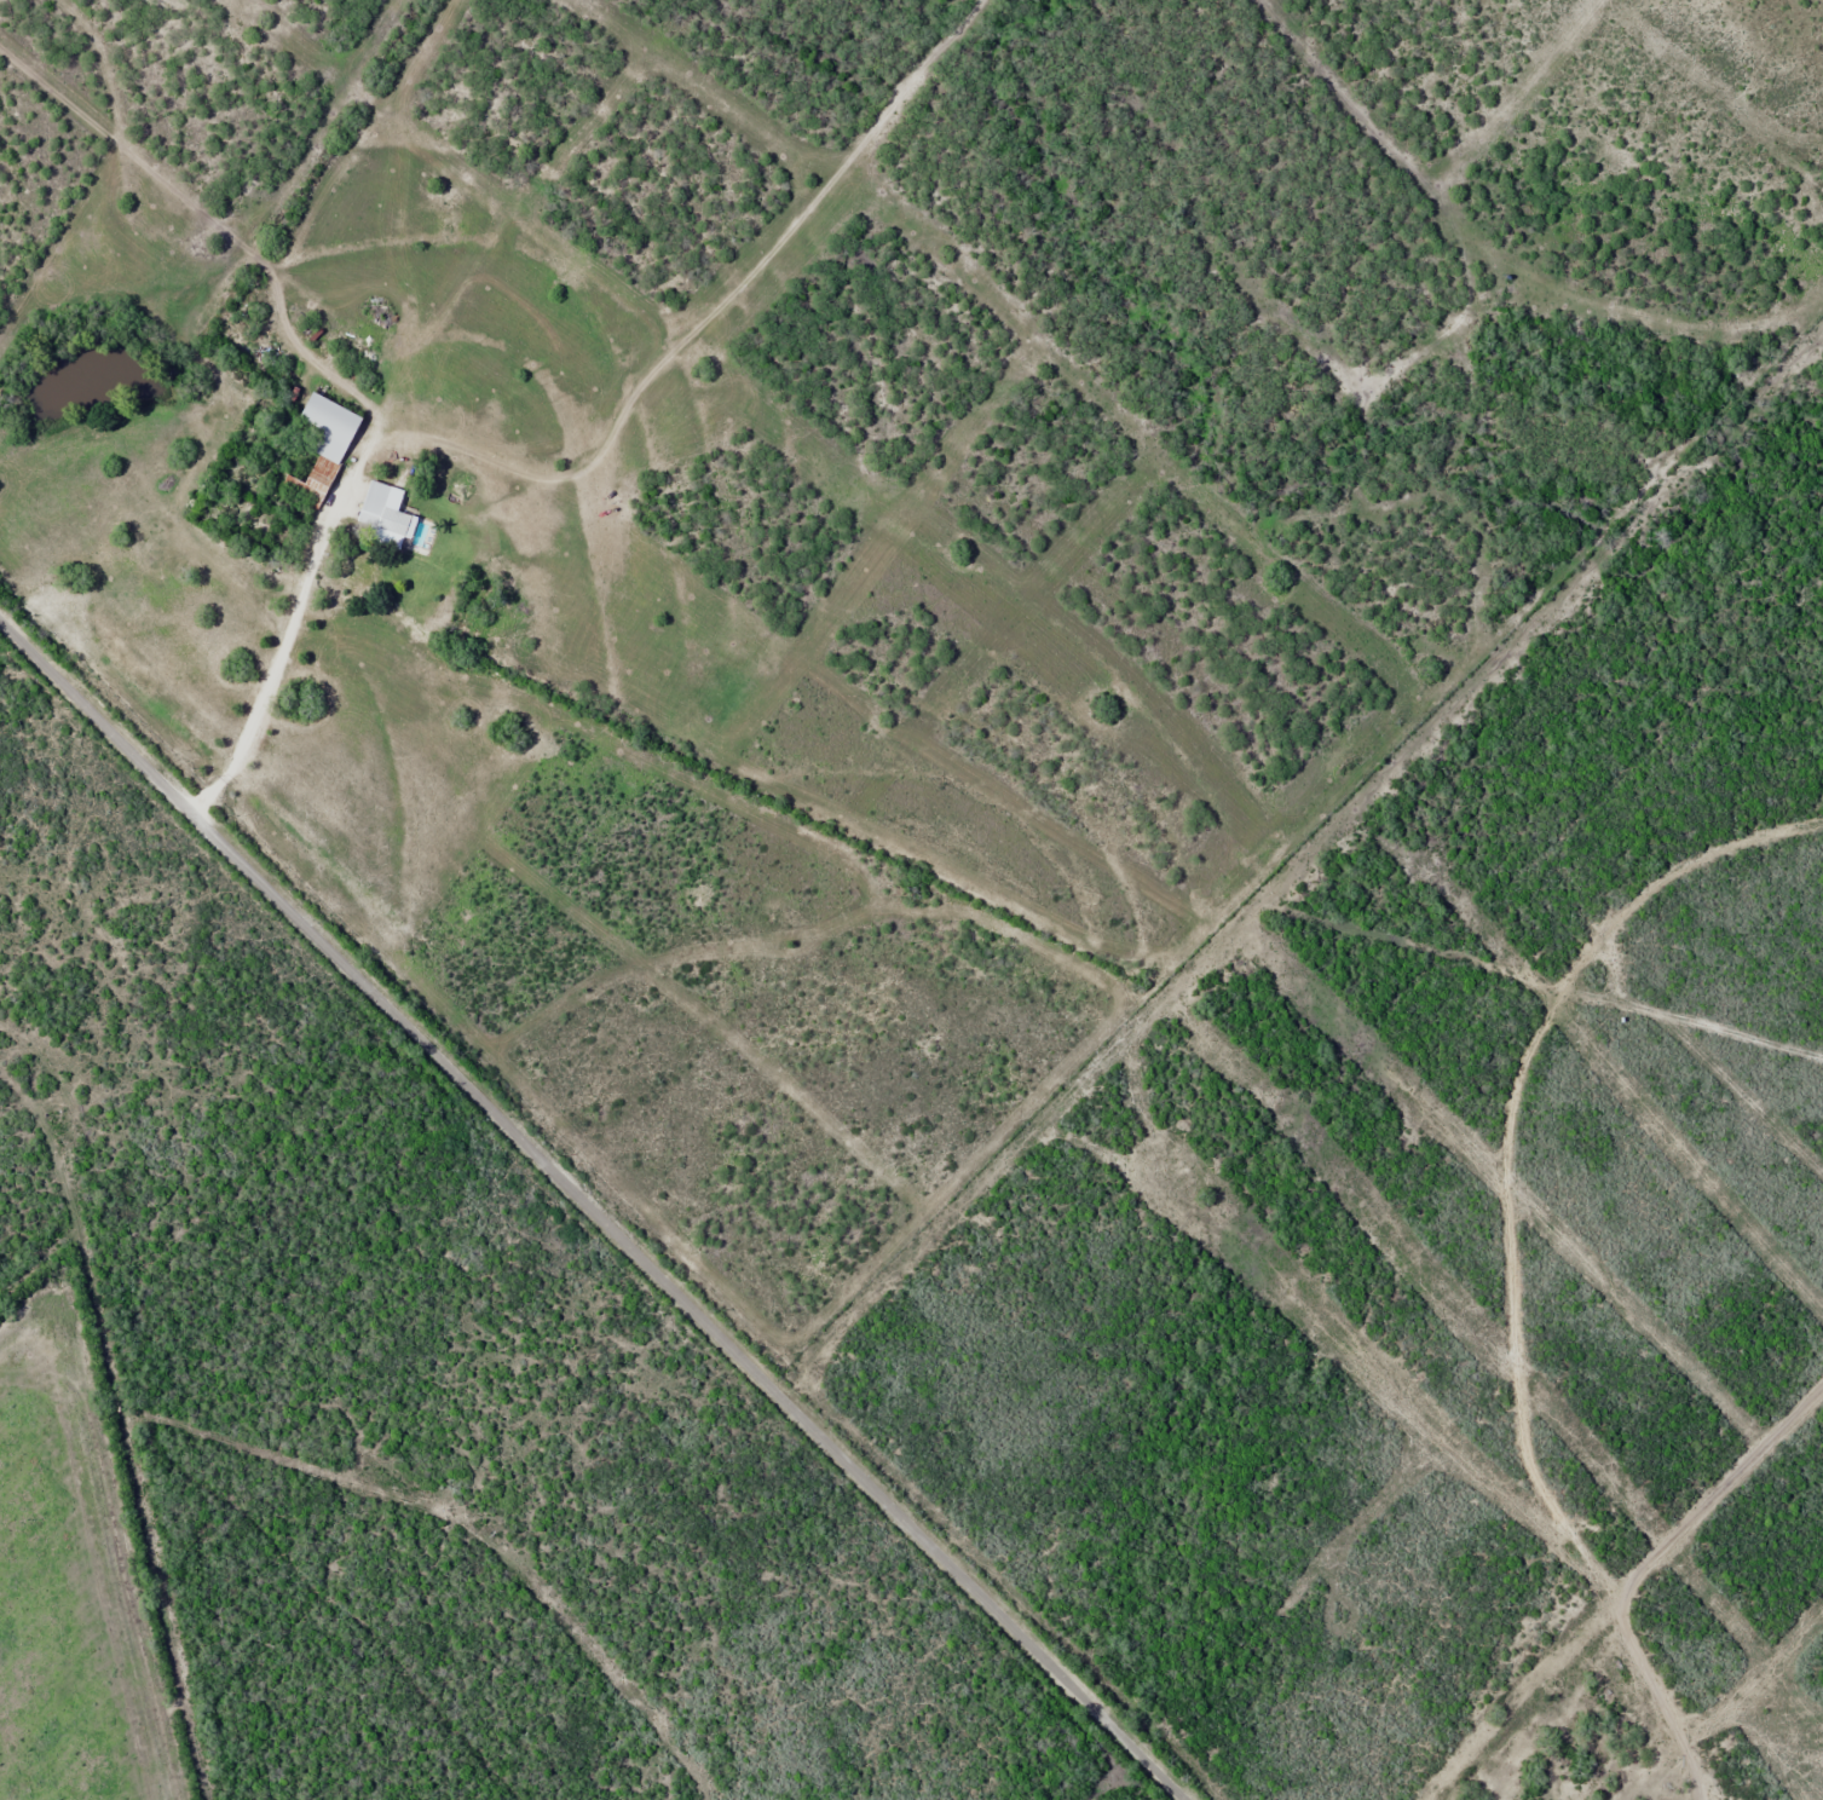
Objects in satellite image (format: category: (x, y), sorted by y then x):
building: (323, 449)
building: (379, 514)
building: (354, 576)
road: (285, 634)
road: (590, 1212)

